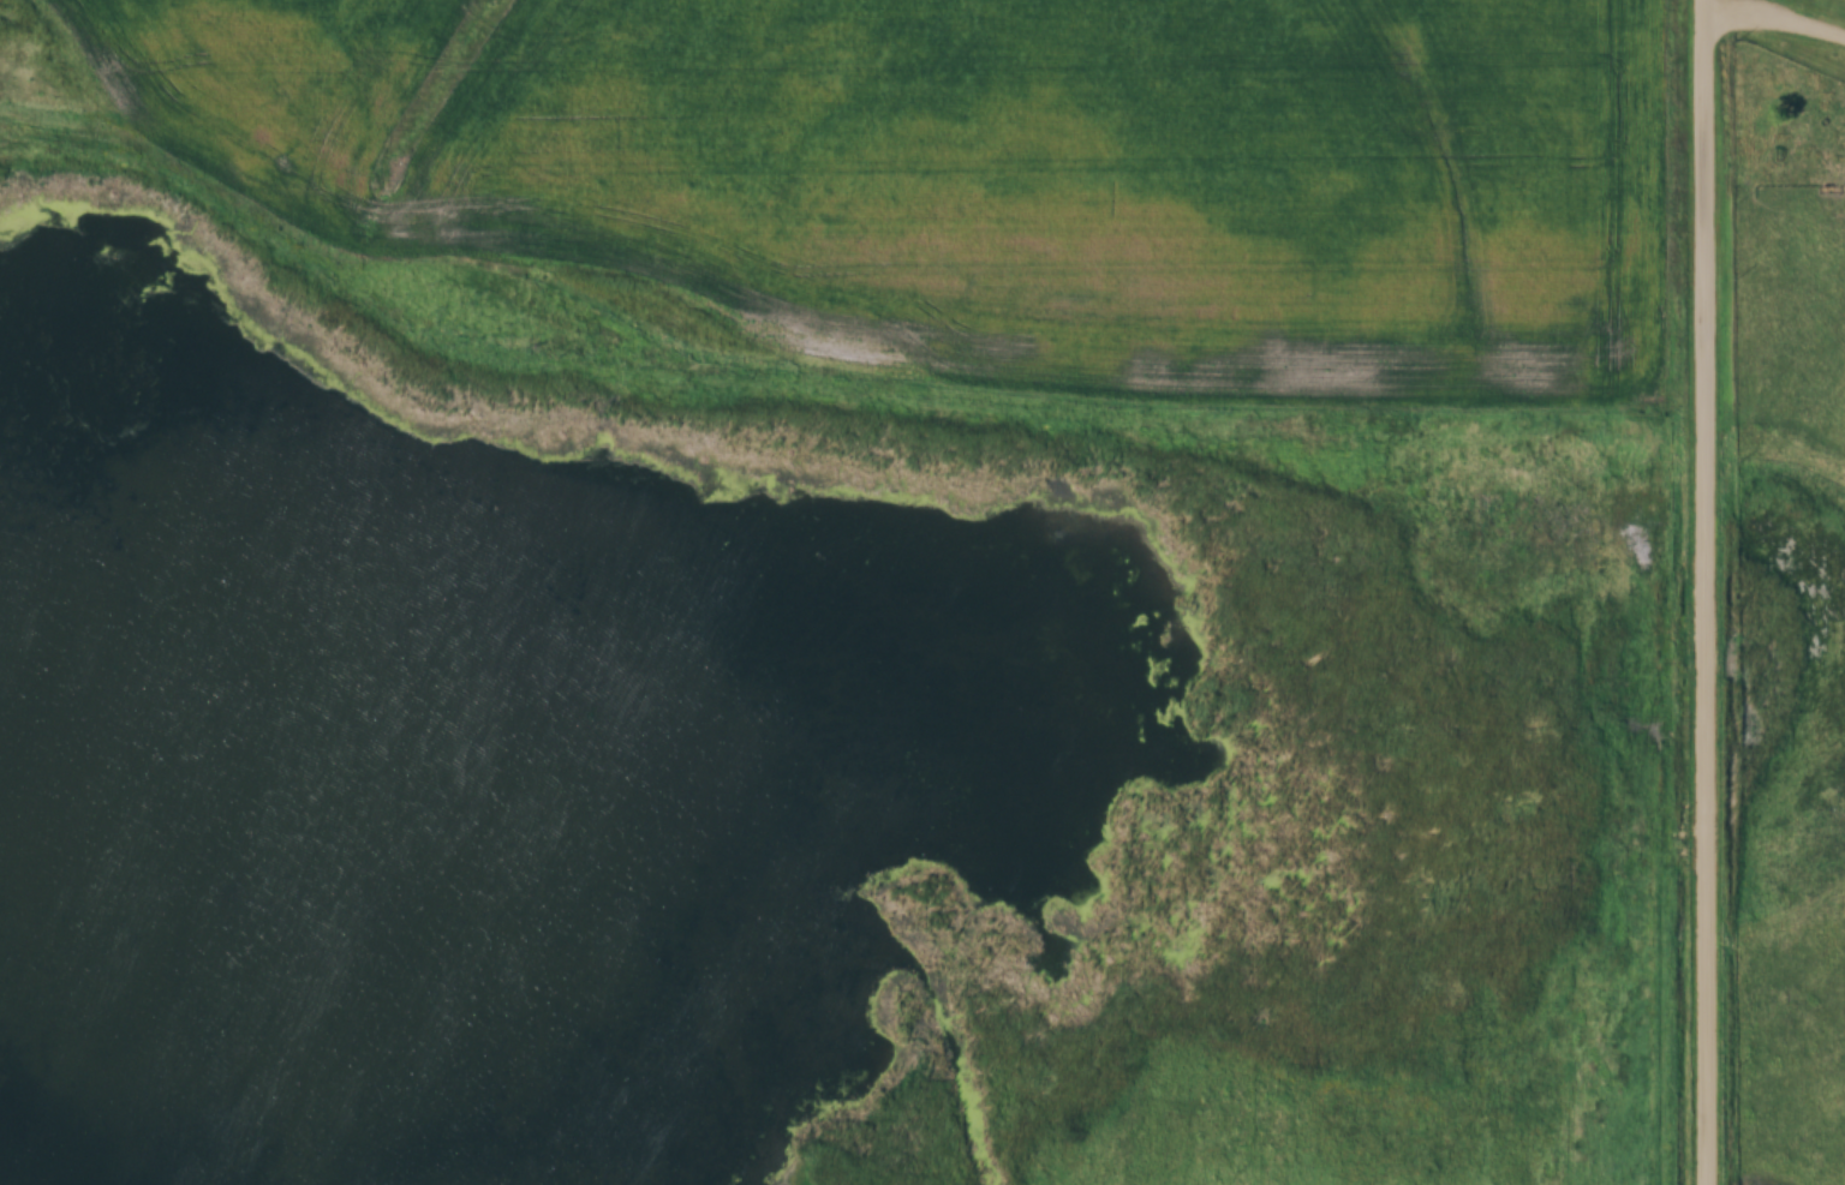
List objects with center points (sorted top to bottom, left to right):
road: (1780, 19)
road: (1712, 592)

